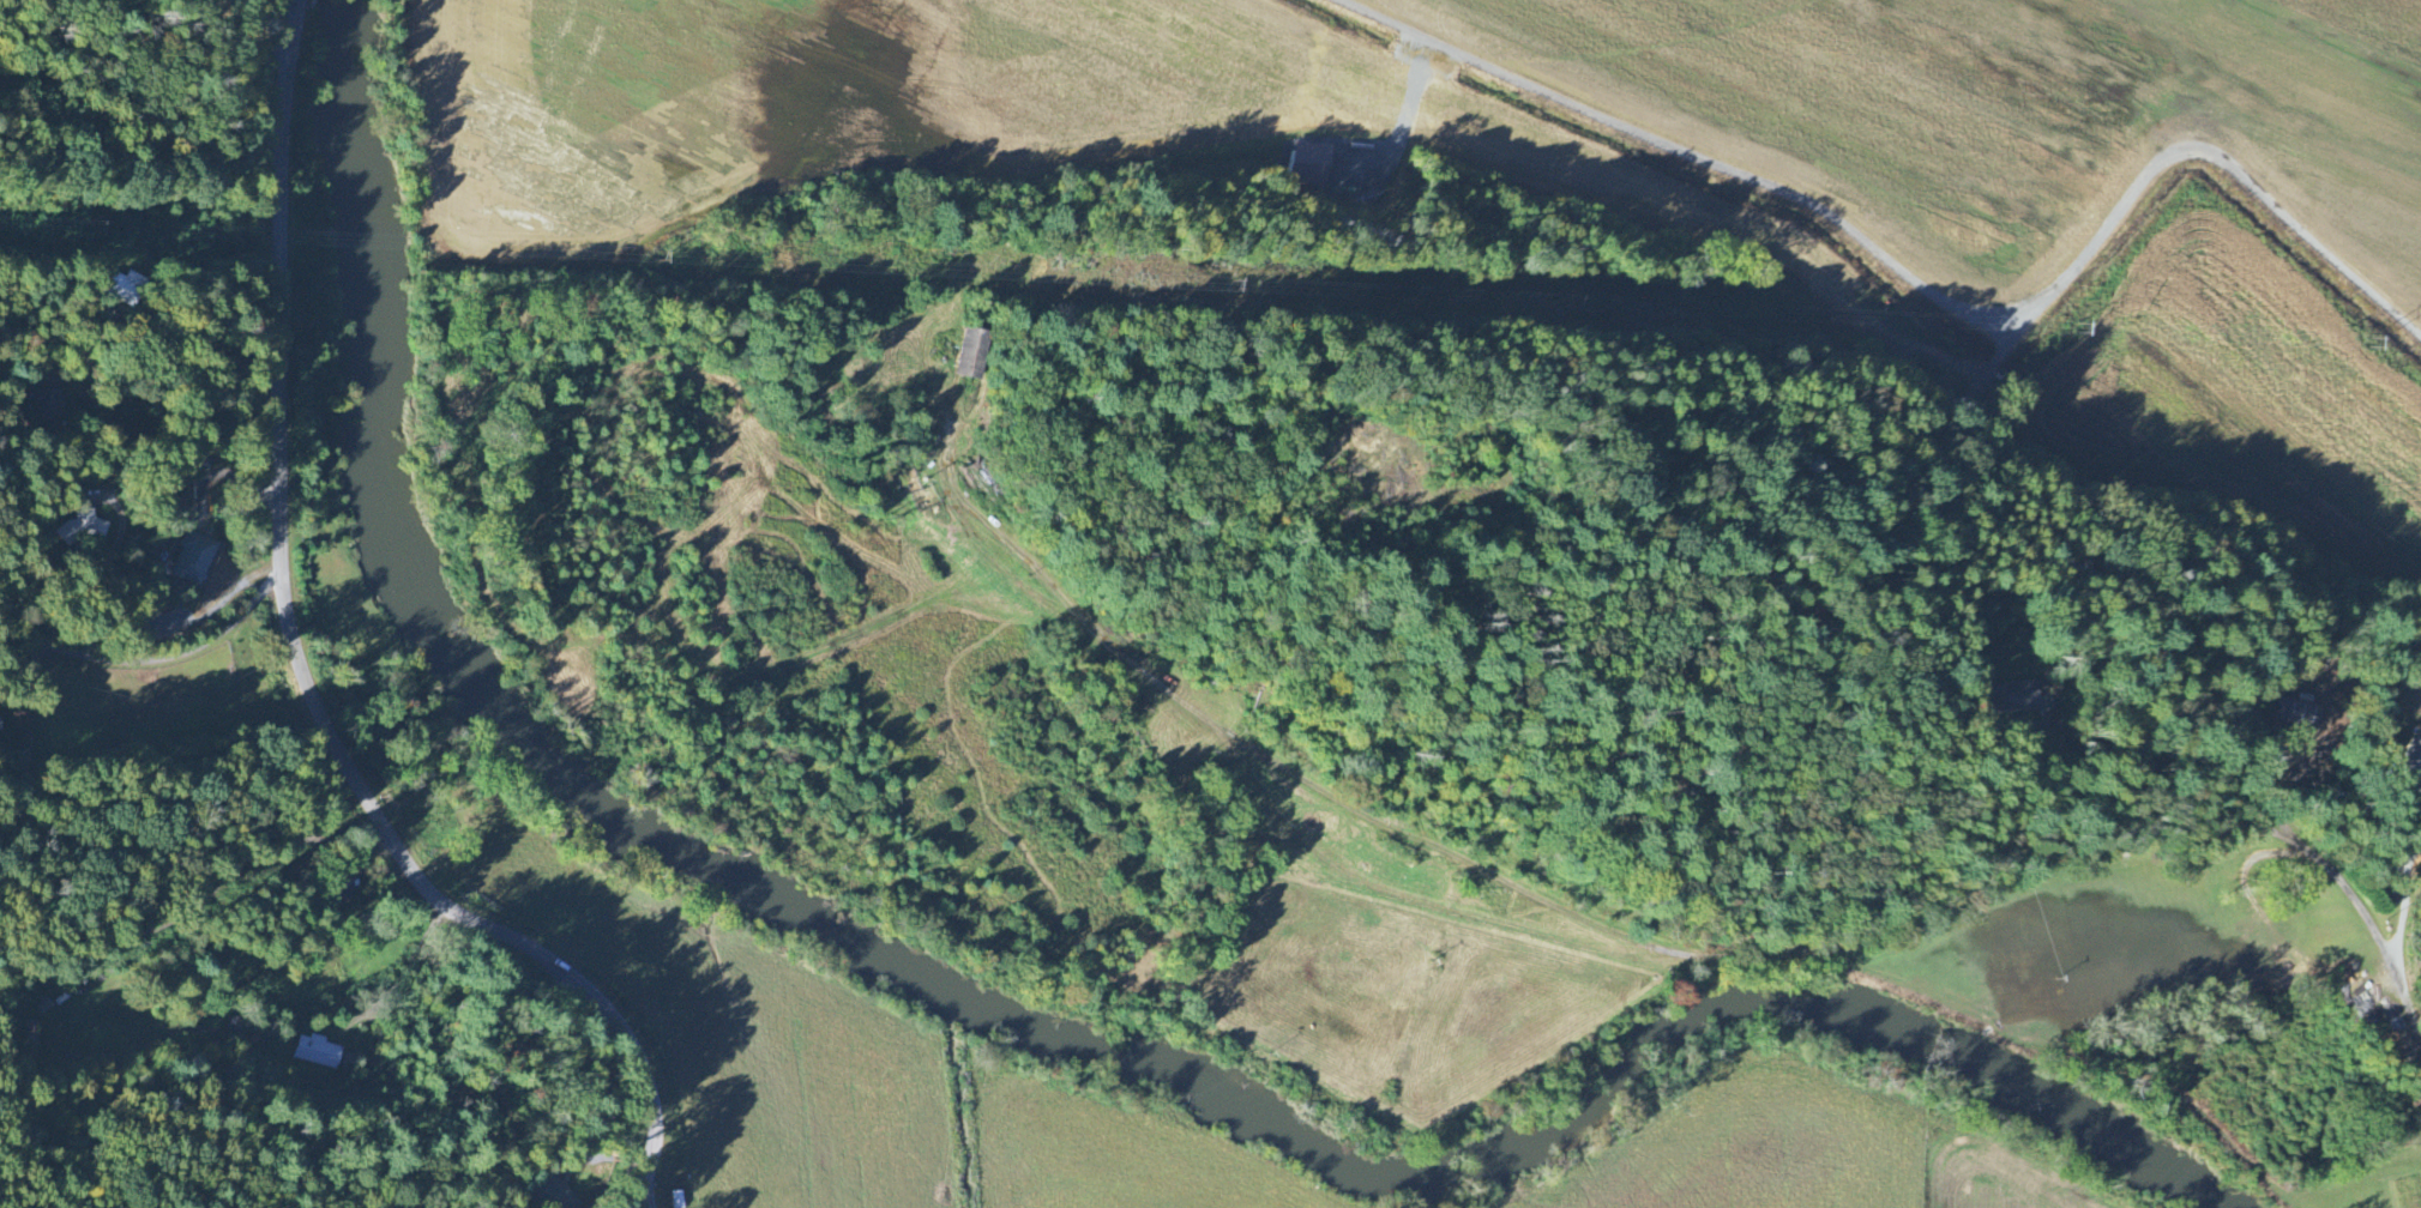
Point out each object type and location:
road: (174, 159)
power tower: (239, 237)
power tower: (672, 260)
power tower: (1251, 284)
road: (1919, 284)
building: (122, 289)
road: (191, 306)
road: (98, 308)
power tower: (1797, 319)
power tower: (2062, 330)
power tower: (2350, 344)
building: (972, 355)
building: (193, 558)
road: (92, 568)
road: (146, 660)
road: (2078, 668)
road: (305, 677)
road: (2232, 693)
building: (2025, 697)
road: (32, 709)
road: (253, 842)
road: (2405, 905)
road: (1694, 954)
road: (403, 971)
river: (1008, 1020)
building: (318, 1053)
building: (677, 1200)
road: (650, 1202)

